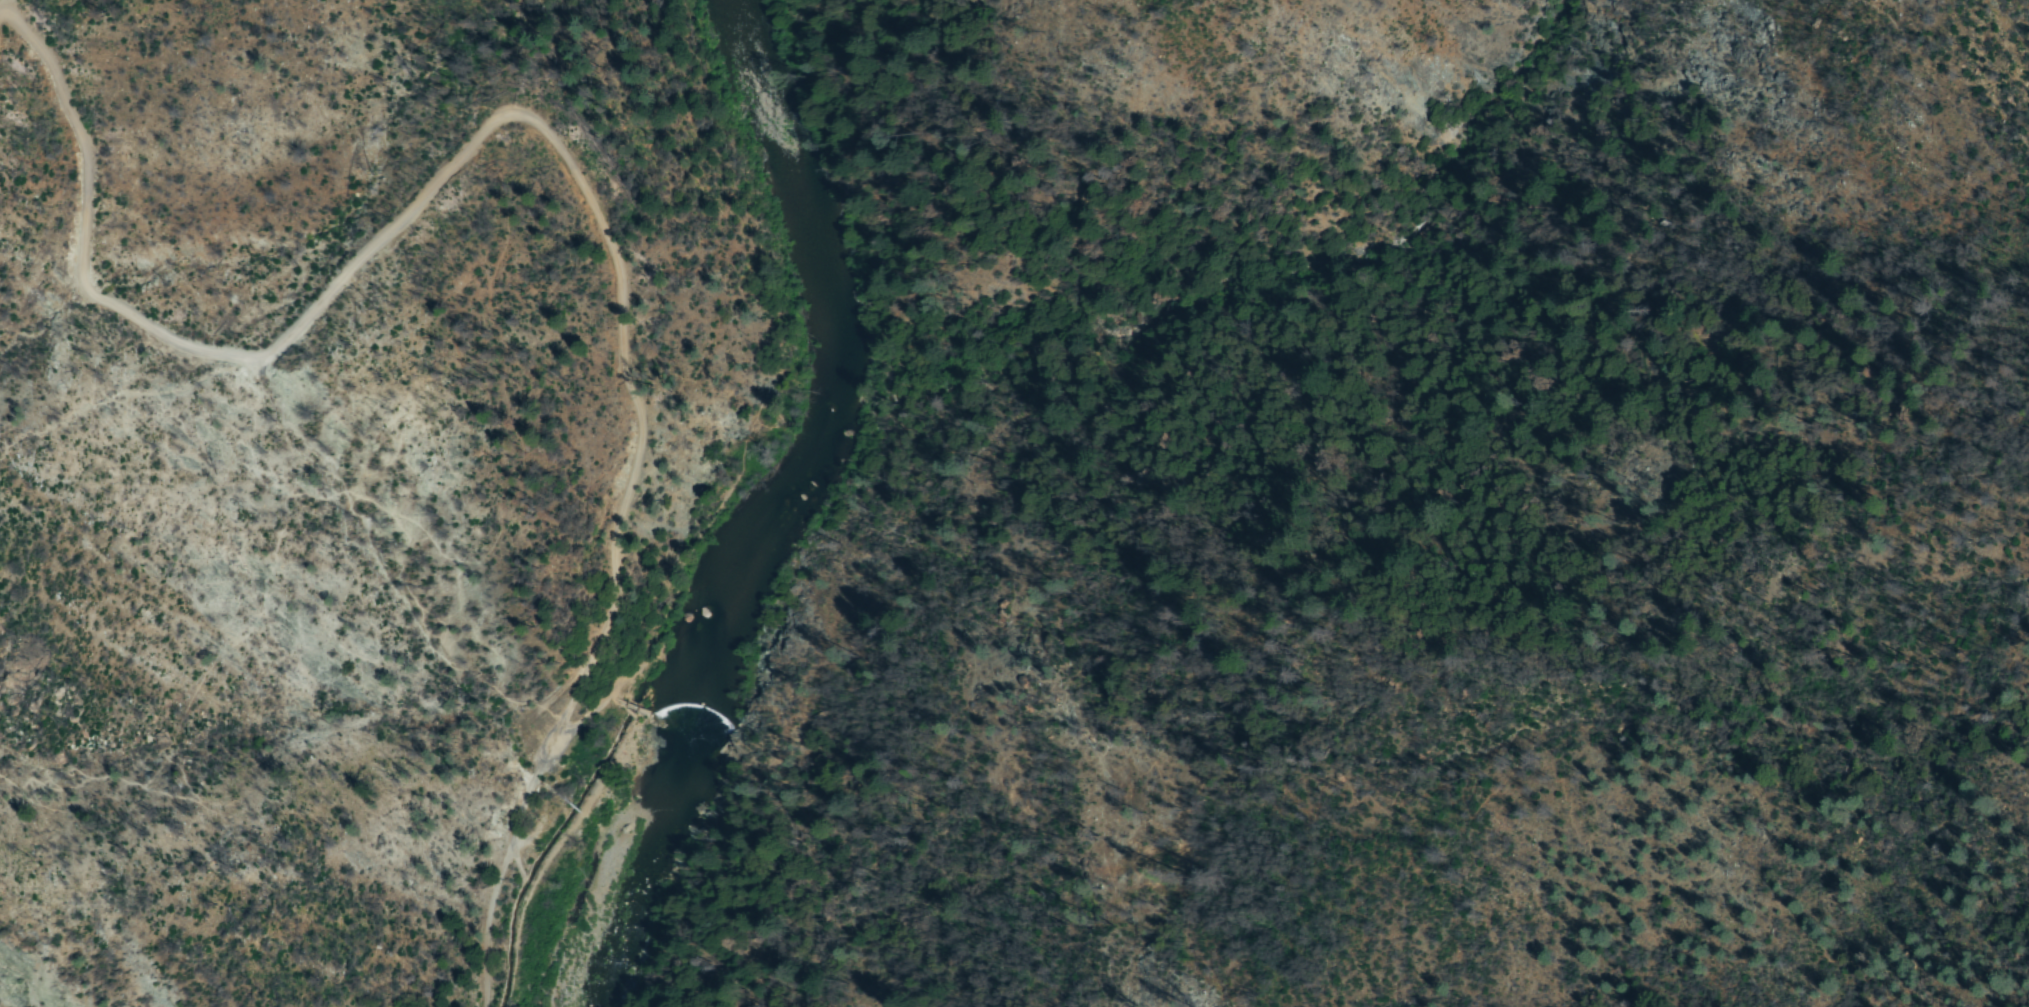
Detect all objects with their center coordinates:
road: (559, 131)
river: (783, 511)

